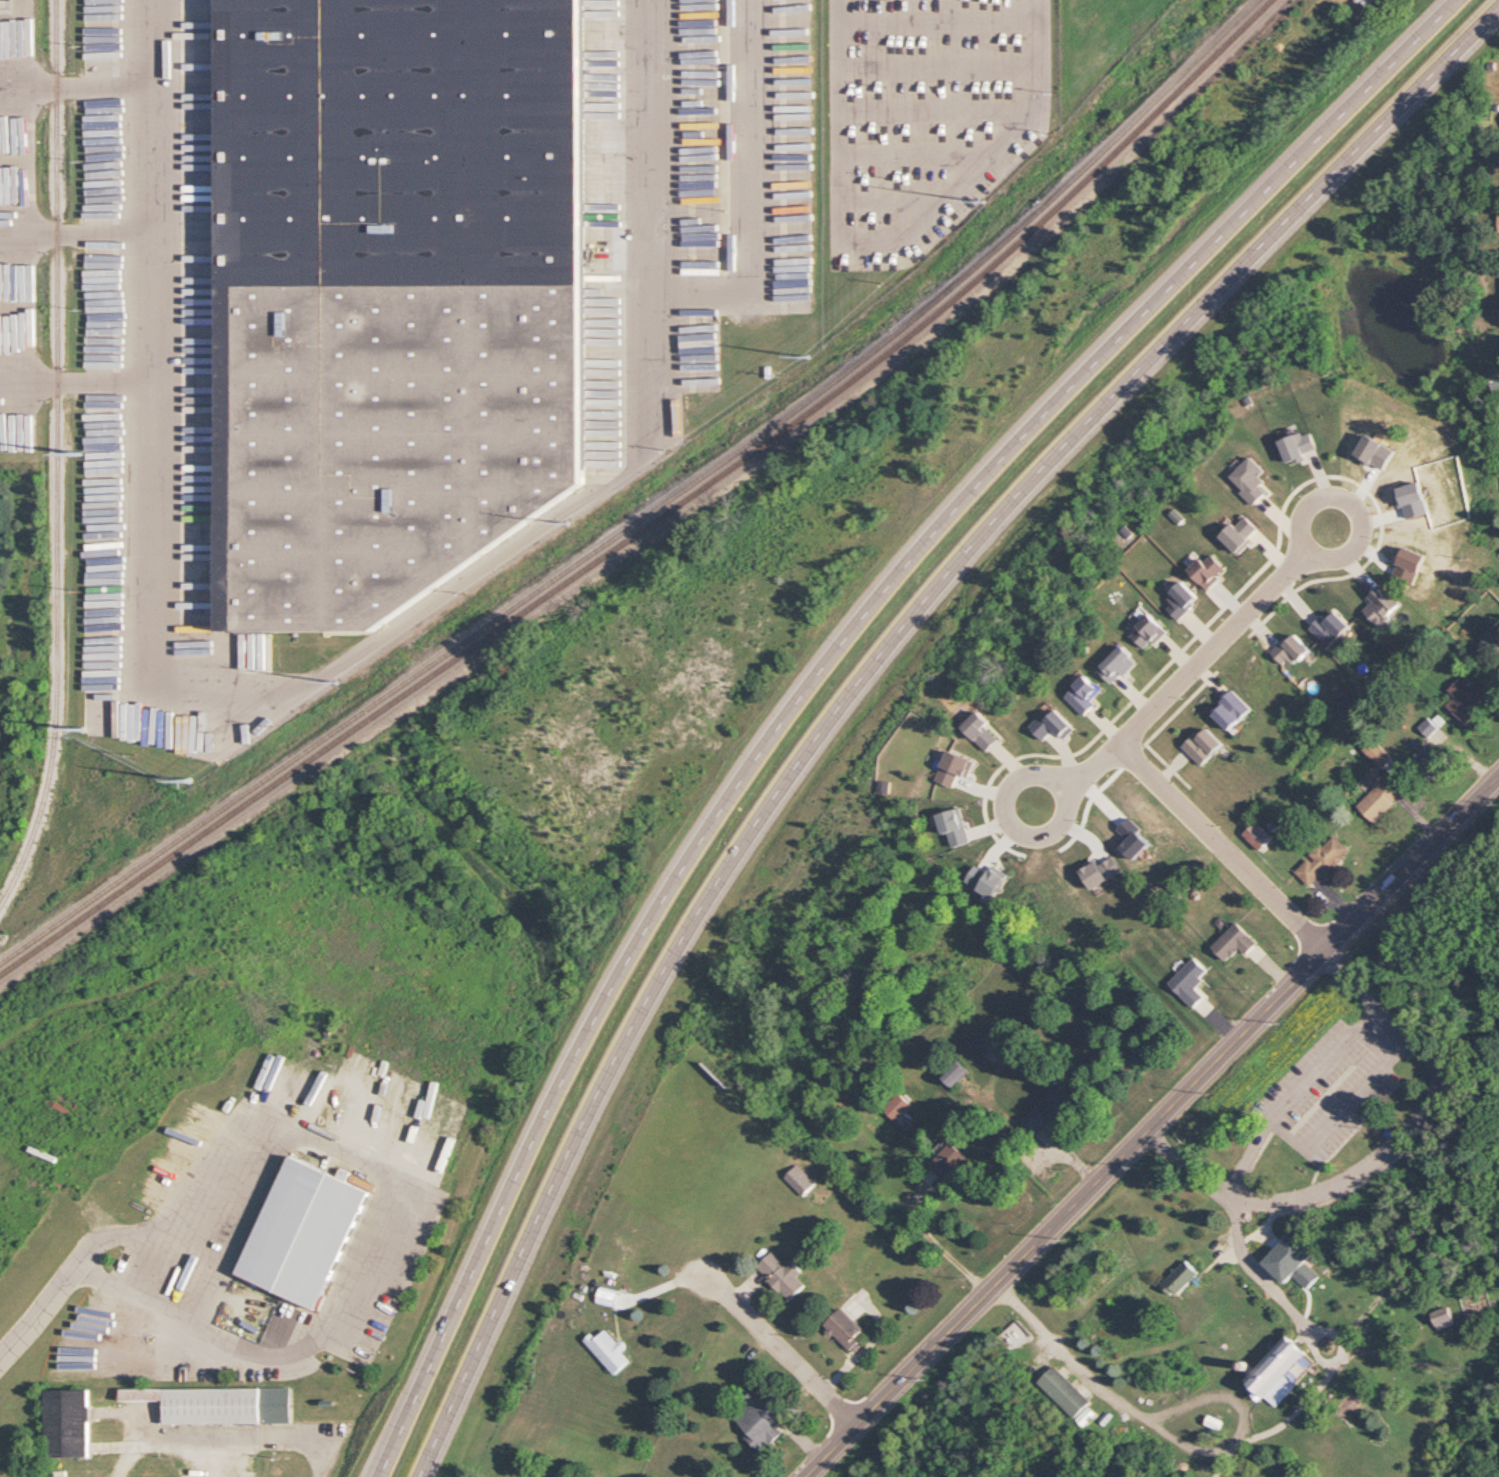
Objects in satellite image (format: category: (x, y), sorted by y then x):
road: (941, 18)
road: (942, 64)
road: (81, 80)
road: (942, 109)
road: (650, 135)
road: (922, 154)
road: (753, 186)
road: (900, 196)
building: (1498, 217)
road: (81, 230)
road: (902, 246)
building: (391, 284)
road: (82, 381)
building: (1298, 444)
railway: (56, 457)
road: (1316, 479)
building: (1251, 480)
railway: (652, 510)
railway: (660, 517)
building: (1240, 534)
building: (1208, 569)
road: (1300, 588)
building: (1182, 598)
building: (1382, 604)
building: (1331, 627)
building: (1148, 630)
building: (1491, 636)
building: (1293, 650)
building: (1119, 664)
road: (824, 671)
road: (865, 674)
road: (186, 690)
building: (1083, 695)
building: (1469, 699)
road: (1130, 701)
building: (1233, 709)
building: (1052, 723)
building: (1428, 726)
road: (1157, 731)
building: (982, 732)
road: (1124, 732)
building: (1203, 746)
building: (1378, 754)
building: (1430, 762)
building: (954, 768)
road: (1079, 770)
building: (1377, 796)
building: (956, 827)
building: (1256, 835)
building: (1321, 859)
building: (988, 880)
building: (1234, 943)
building: (1189, 981)
road: (1360, 1026)
road: (1384, 1031)
building: (986, 1038)
building: (956, 1073)
parking lot: (1325, 1093)
building: (897, 1107)
building: (1047, 1110)
road: (1150, 1127)
parking lot: (1402, 1140)
road: (1378, 1154)
building: (946, 1162)
building: (799, 1180)
road: (389, 1201)
road: (1412, 1230)
building: (301, 1233)
road: (936, 1243)
park: (1275, 1245)
building: (1293, 1260)
building: (782, 1275)
road: (217, 1276)
building: (1179, 1278)
road: (40, 1311)
road: (1293, 1312)
building: (1443, 1316)
building: (846, 1331)
building: (608, 1350)
road: (783, 1351)
road: (1068, 1356)
road: (1422, 1368)
building: (1281, 1370)
building: (1065, 1391)
building: (220, 1404)
building: (1086, 1416)
building: (761, 1419)
road: (1244, 1420)
building: (68, 1423)
road: (1278, 1427)
road: (232, 1440)
road: (199, 1458)

